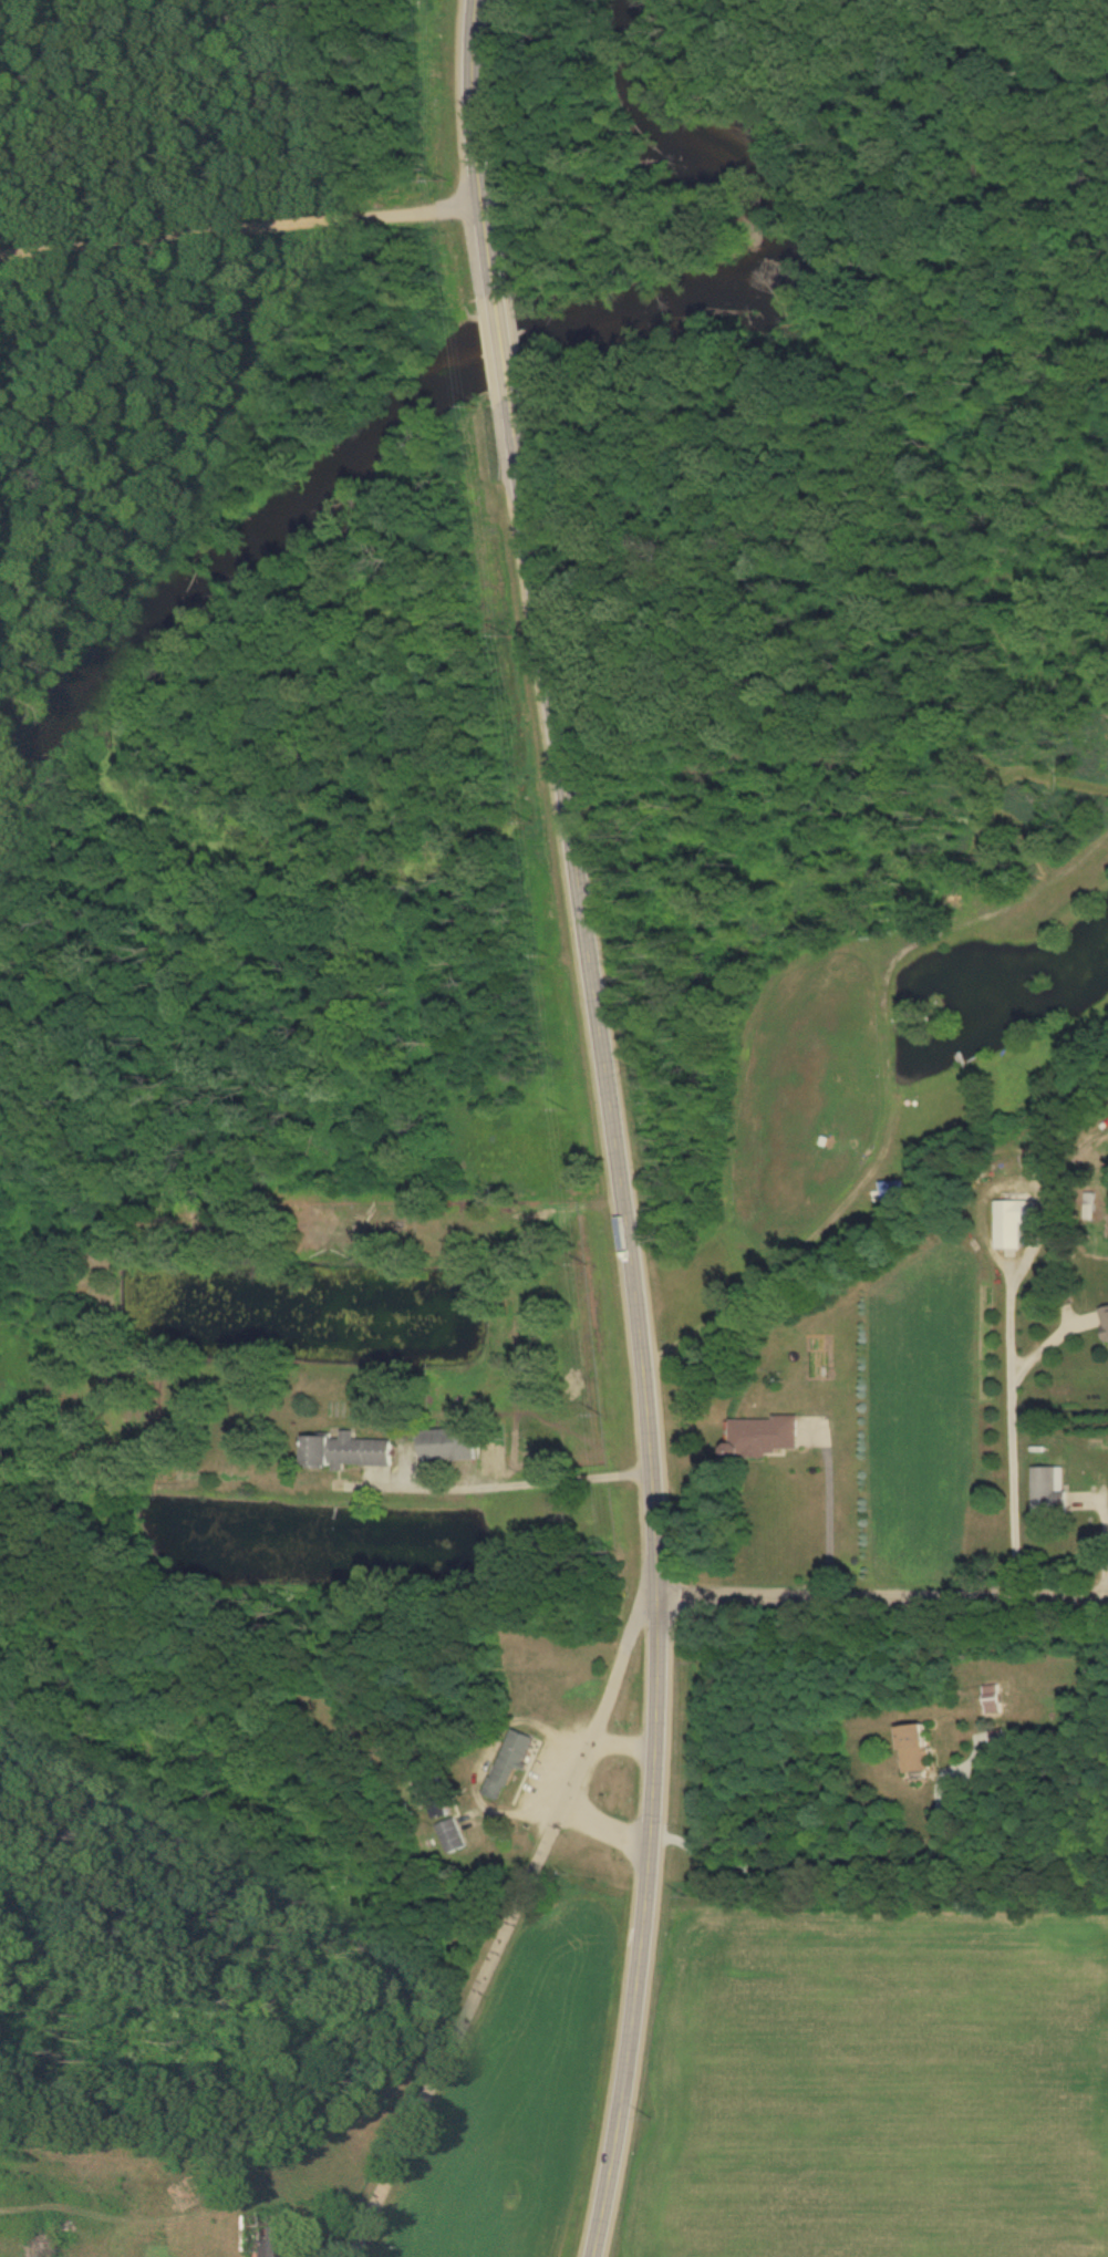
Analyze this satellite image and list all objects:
road: (472, 144)
road: (239, 231)
road: (498, 348)
river: (503, 353)
road: (636, 1329)
road: (1012, 1448)
road: (504, 1473)
road: (828, 1512)
road: (881, 1597)
road: (618, 1741)
road: (602, 1826)
road: (810, 1863)
road: (506, 1927)

